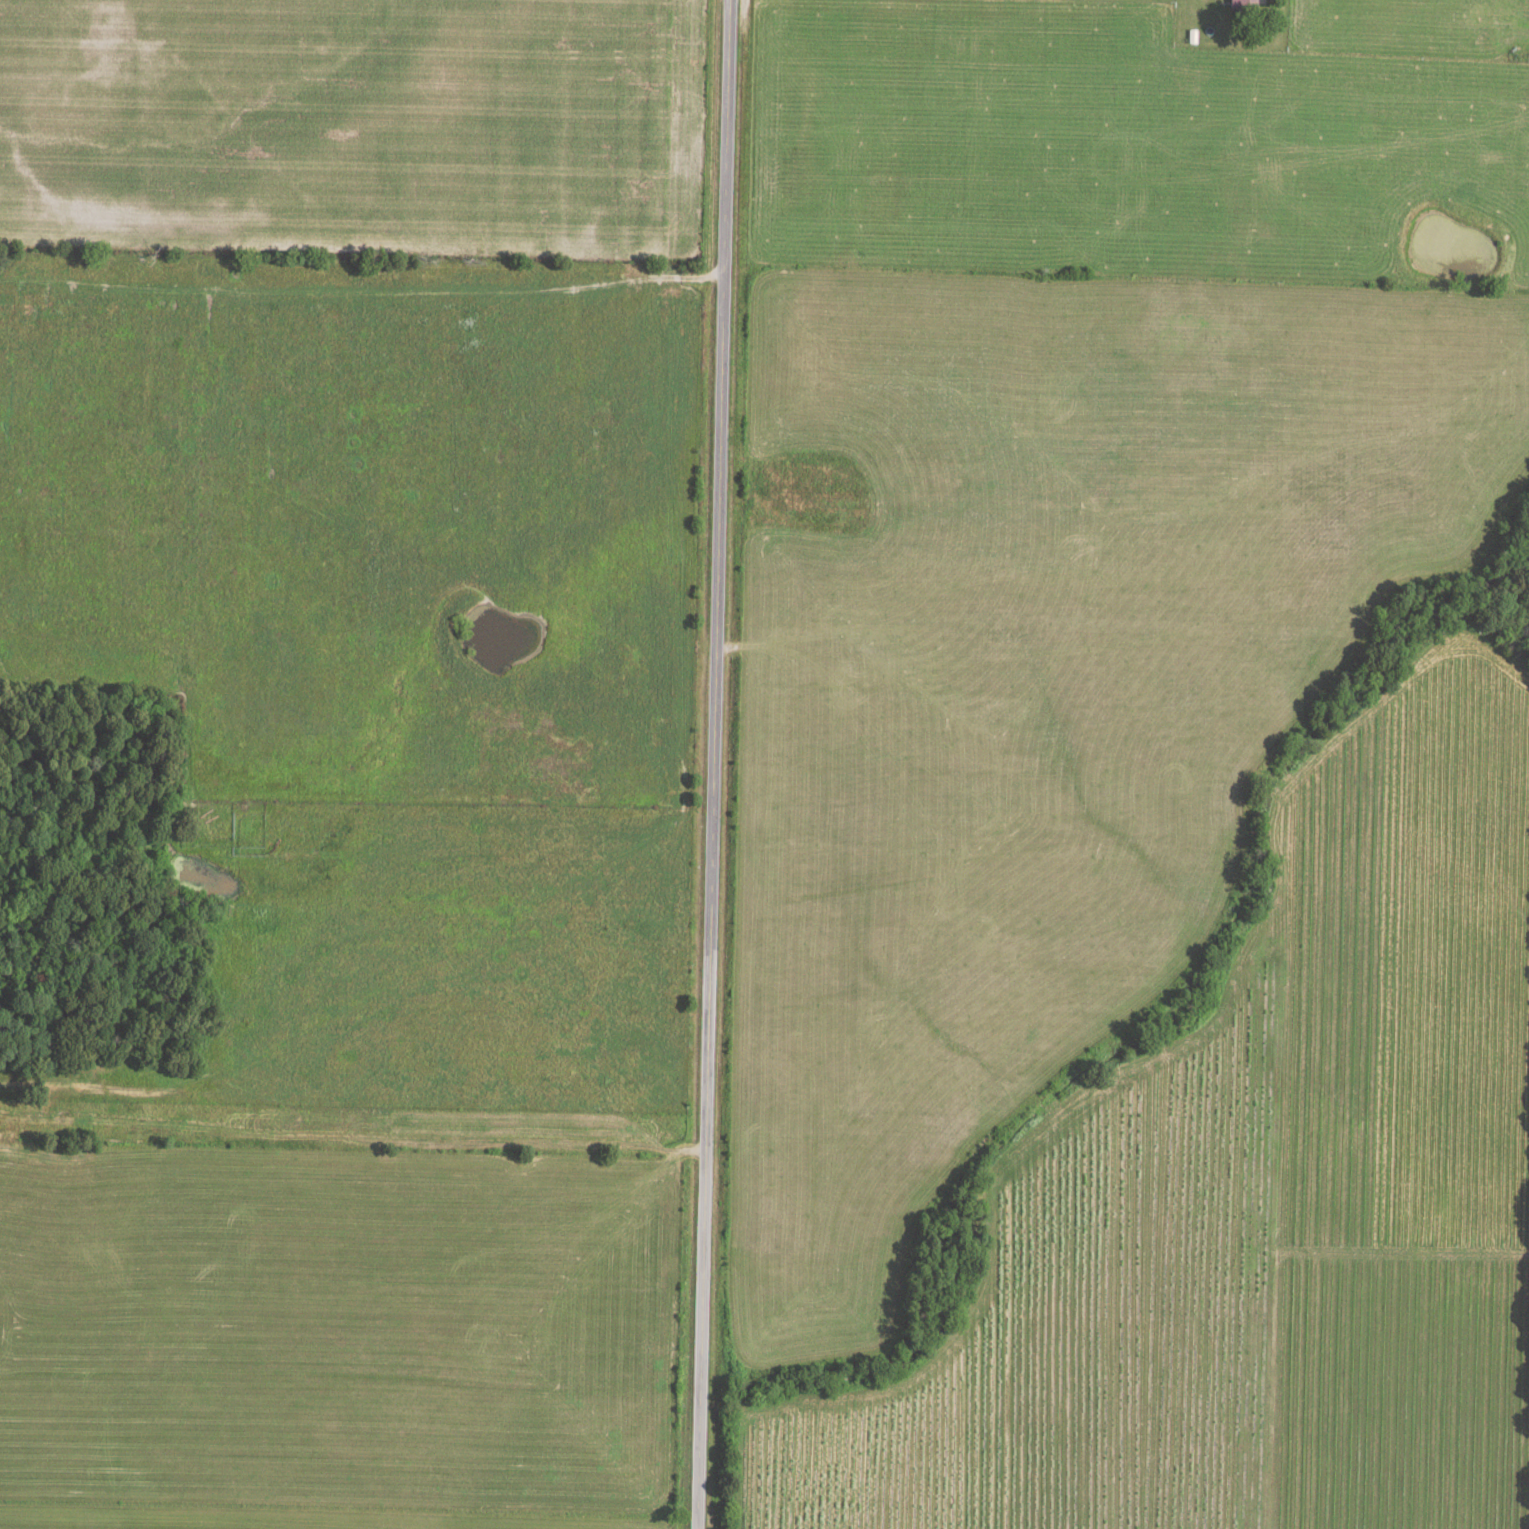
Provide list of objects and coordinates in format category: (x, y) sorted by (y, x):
building: (1243, 4)
road: (848, 97)
road: (713, 764)

